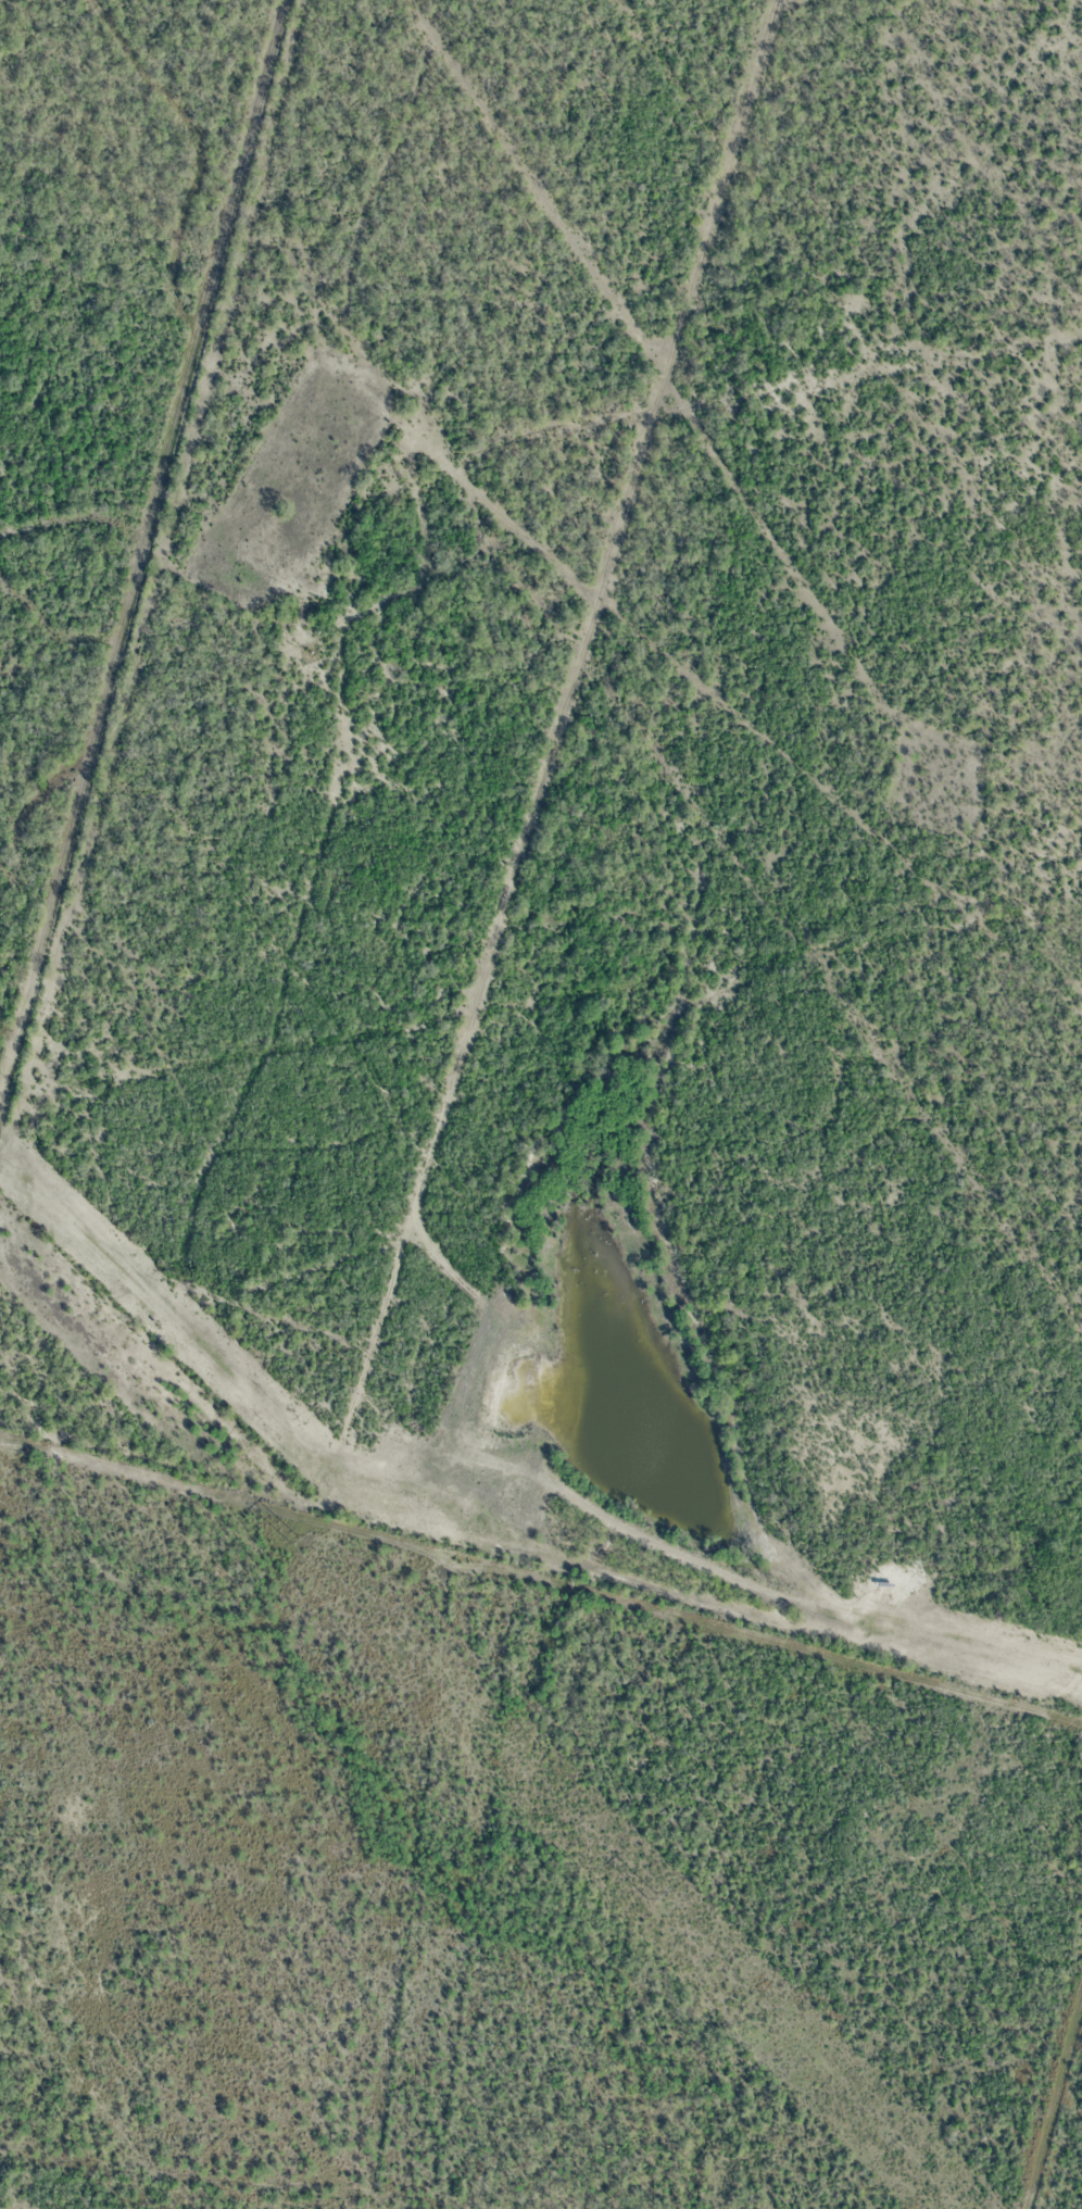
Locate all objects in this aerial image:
road: (1006, 174)
power tower: (291, 1536)
power tower: (649, 1894)

